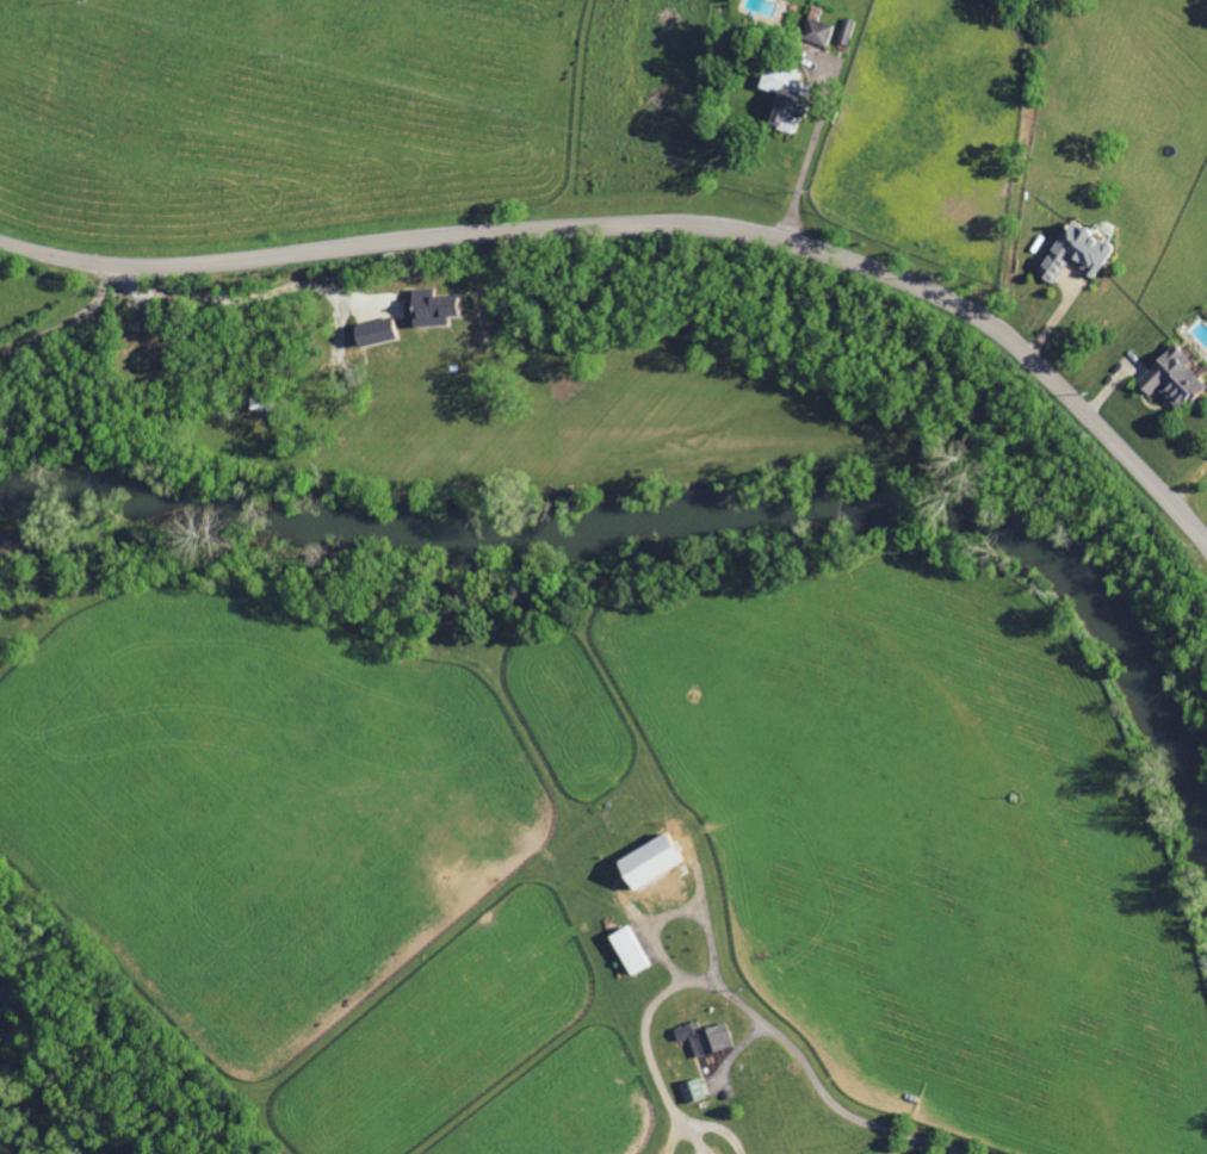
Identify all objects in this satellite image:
building: (816, 31)
building: (782, 93)
road: (806, 159)
road: (655, 224)
building: (1075, 252)
building: (429, 306)
building: (391, 308)
road: (68, 323)
building: (372, 331)
building: (1170, 378)
river: (674, 517)
building: (649, 865)
road: (679, 913)
building: (629, 950)
road: (759, 1017)
building: (705, 1037)
building: (693, 1091)
road: (717, 1125)
road: (673, 1136)

